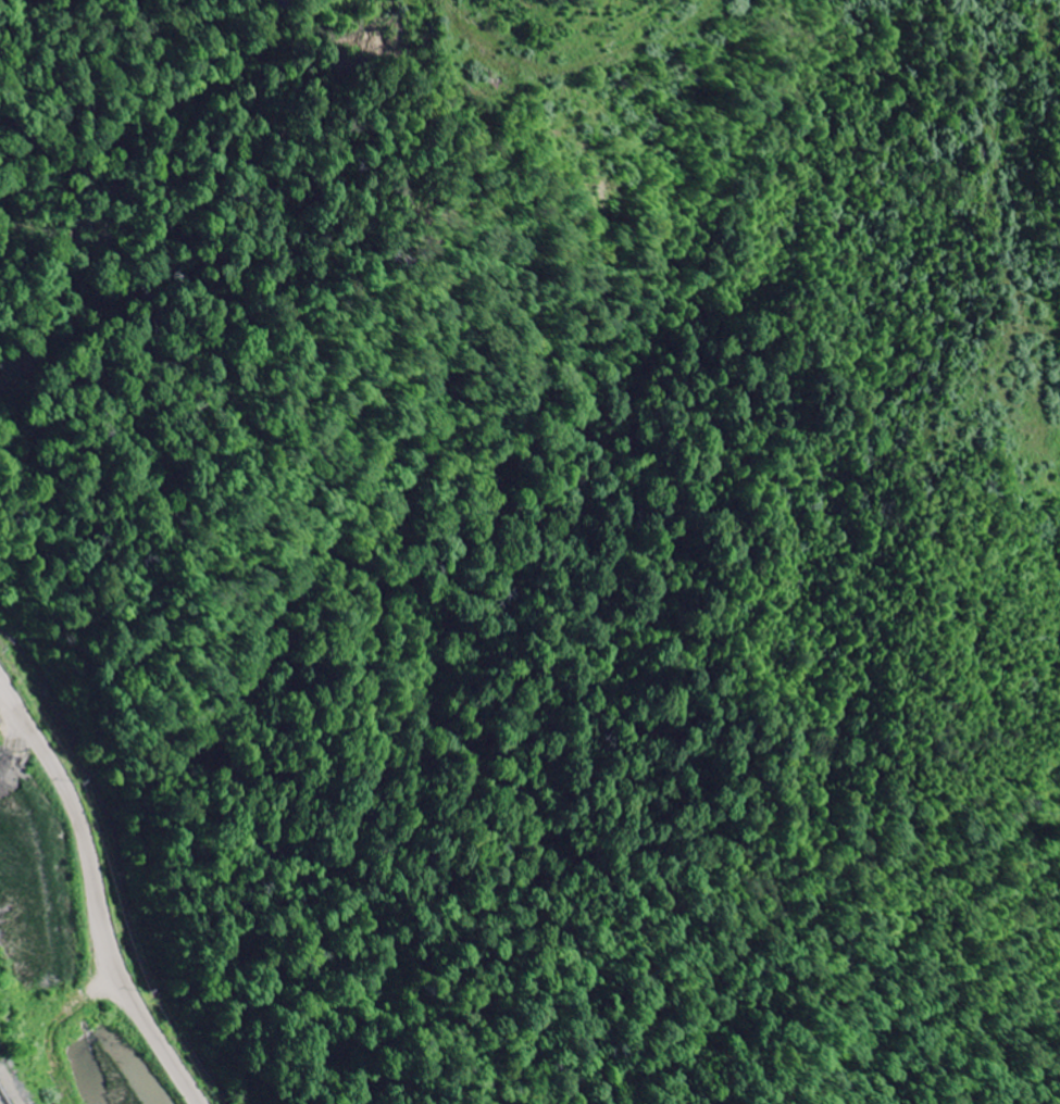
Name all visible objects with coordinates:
road: (42, 966)

